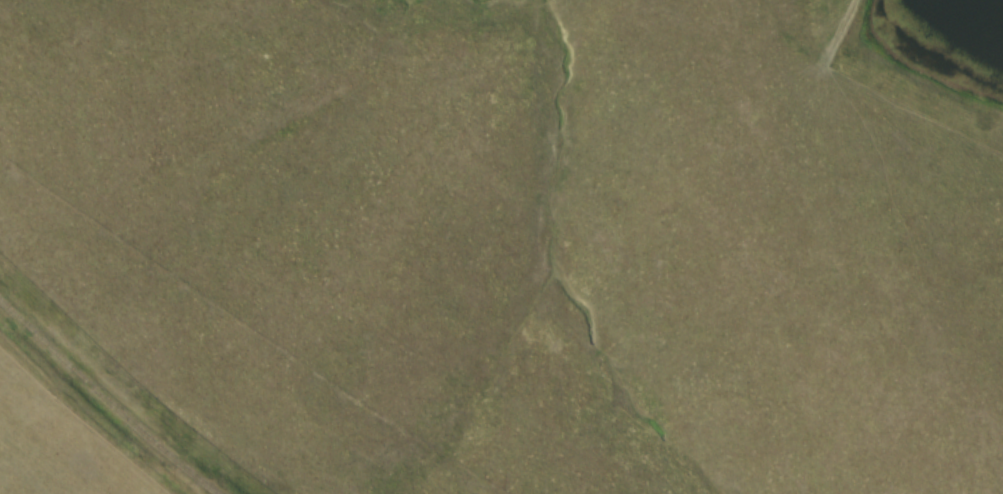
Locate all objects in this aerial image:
railway: (114, 389)

